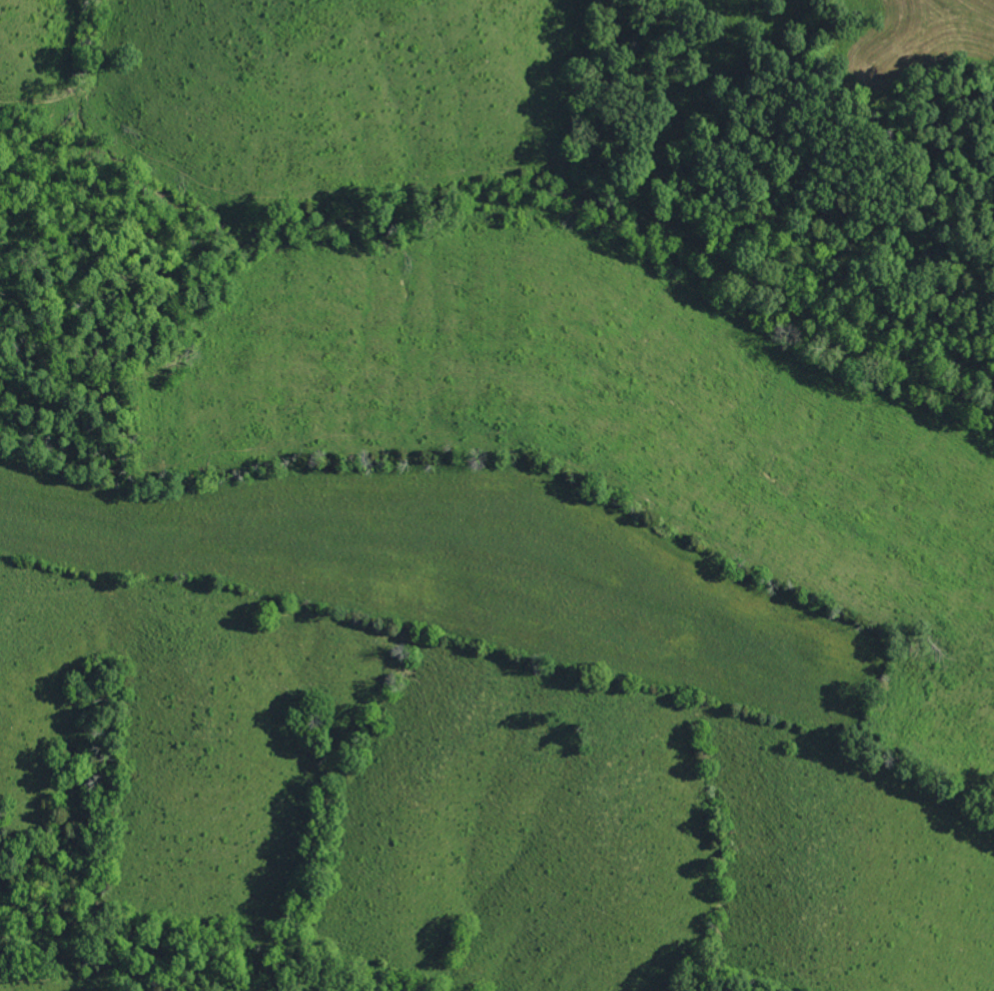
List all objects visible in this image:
road: (7, 516)

